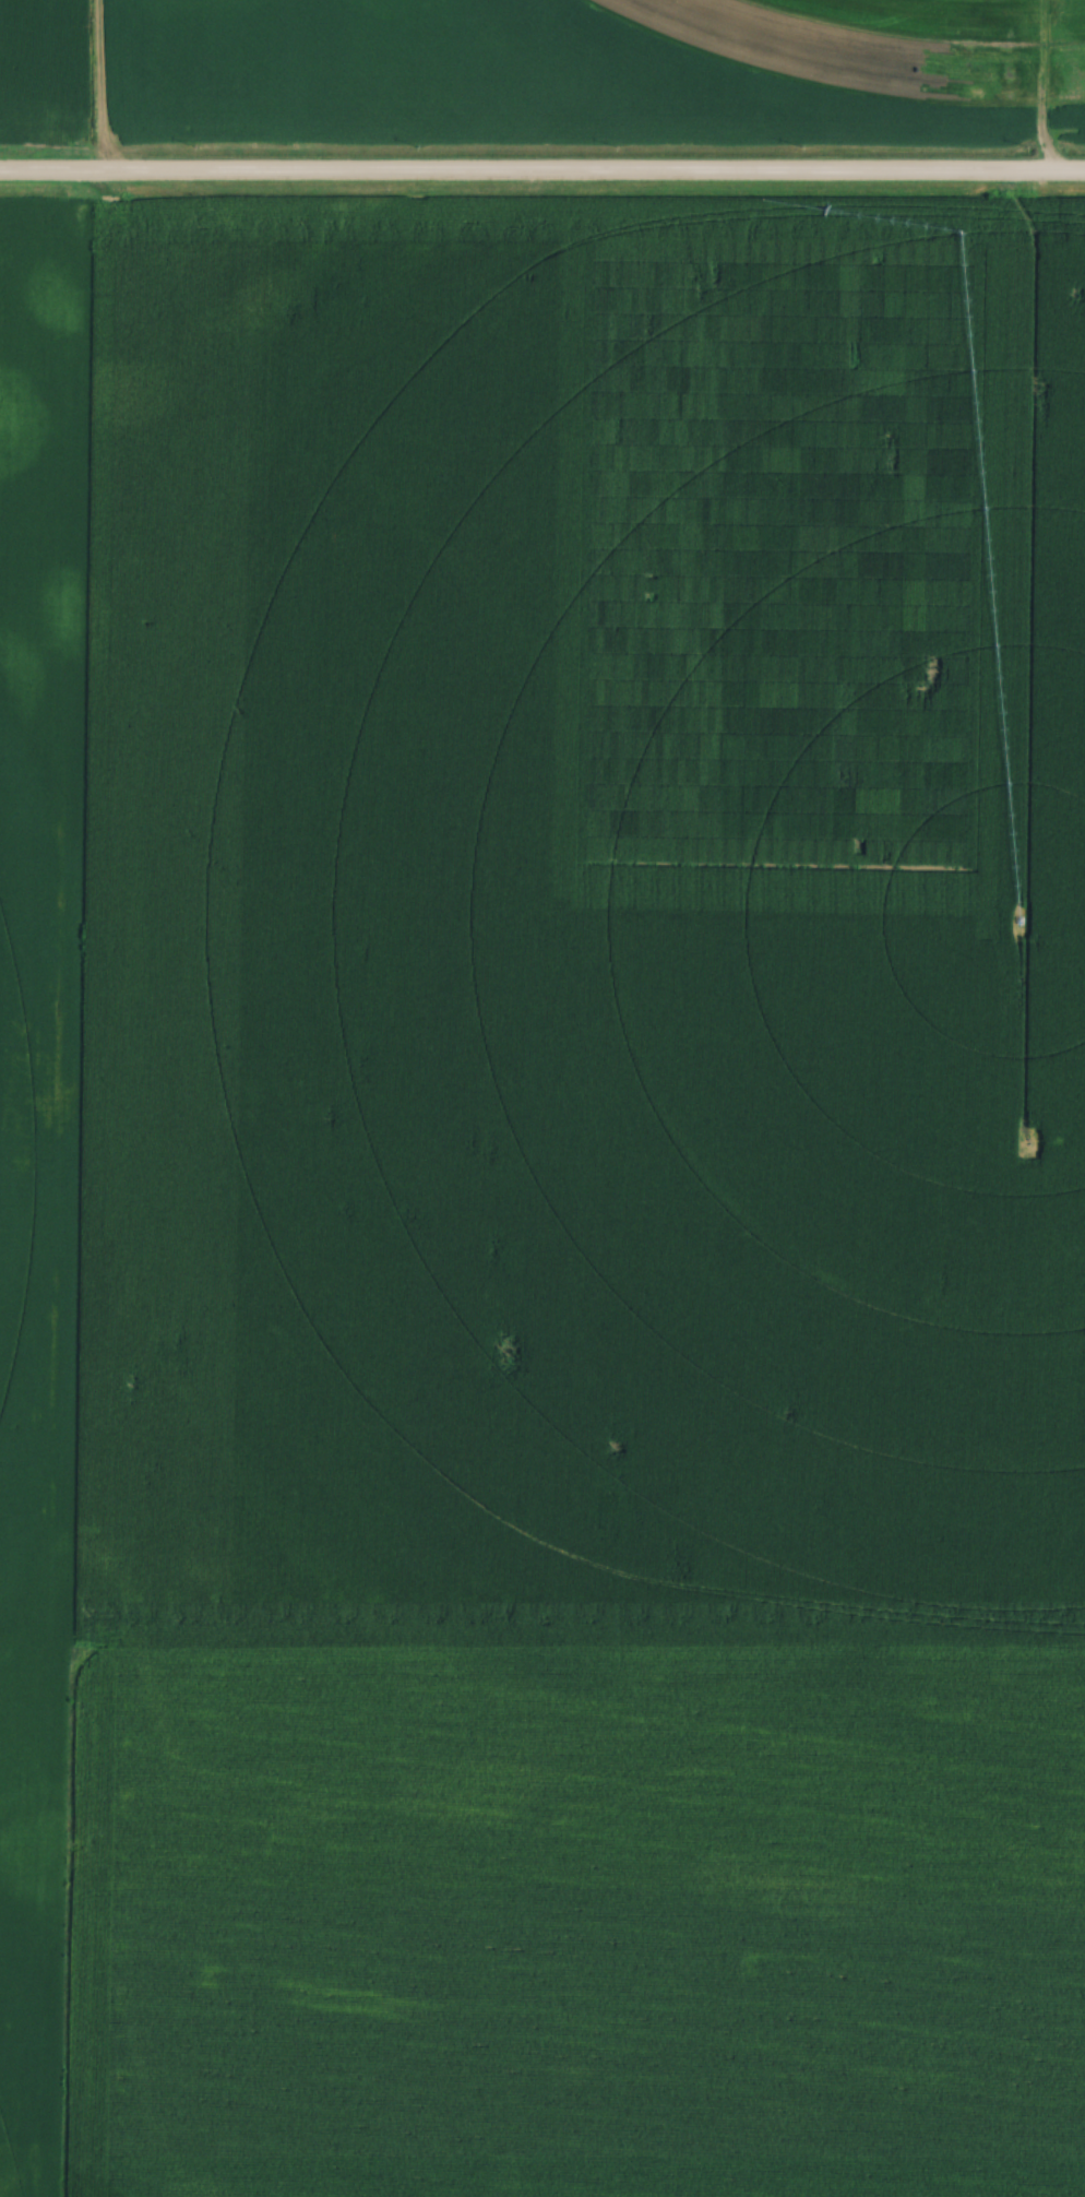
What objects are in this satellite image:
road: (541, 176)

